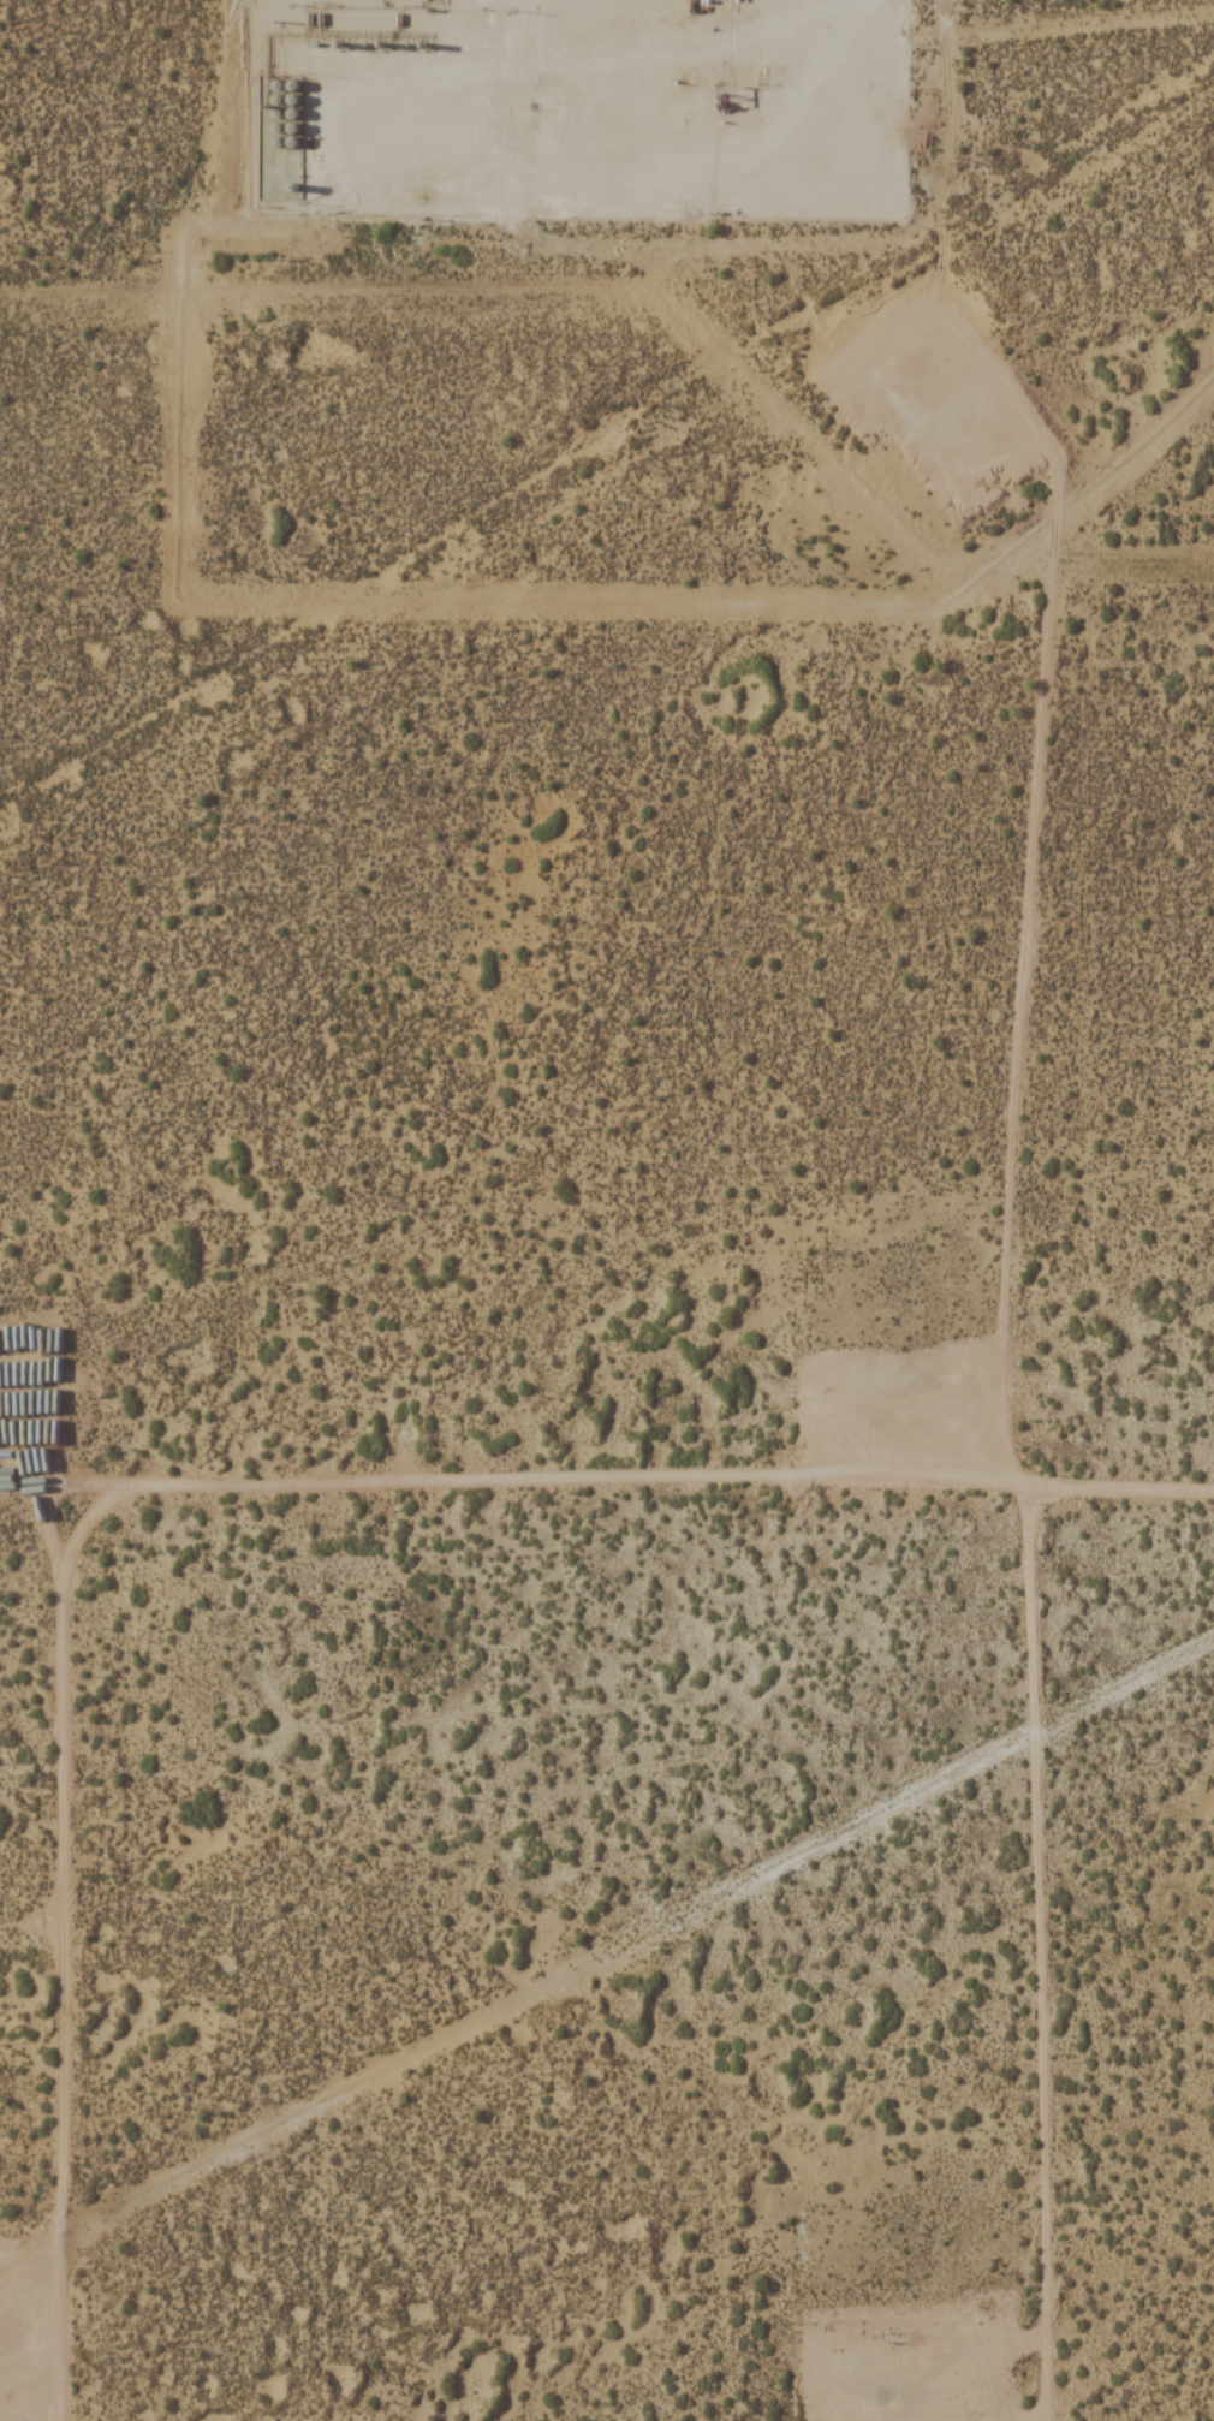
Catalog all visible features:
petroleum well: (757, 82)
petroleum well: (684, 83)
petroleum well: (720, 83)
road: (1046, 853)
petroleum well: (912, 1380)
road: (159, 1477)
road: (1049, 1950)

